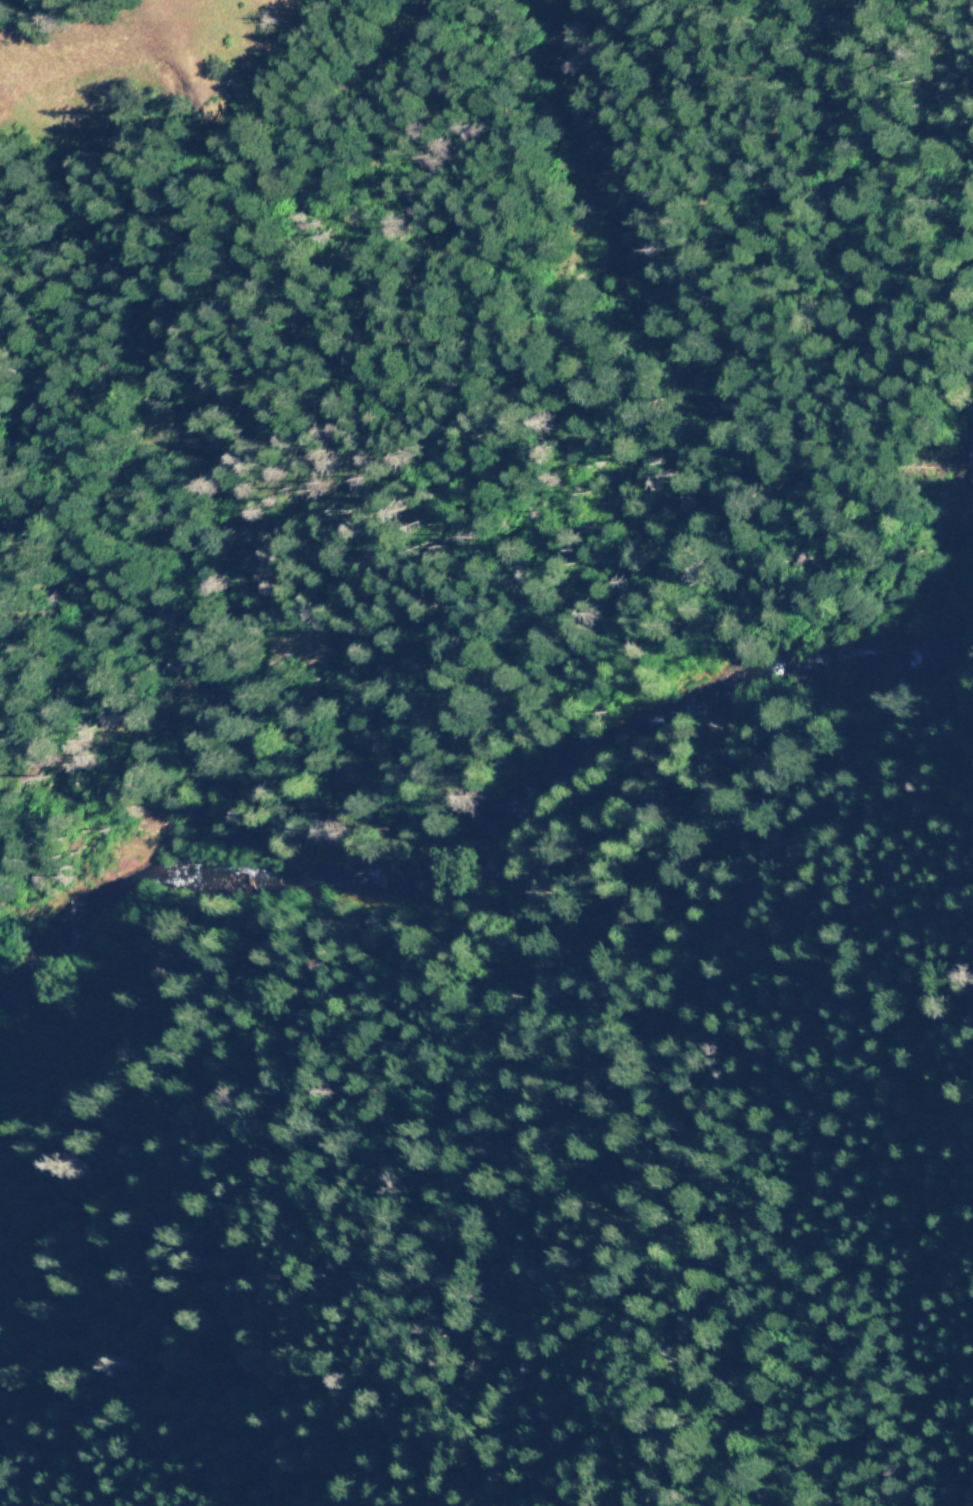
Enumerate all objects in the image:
river: (540, 766)

